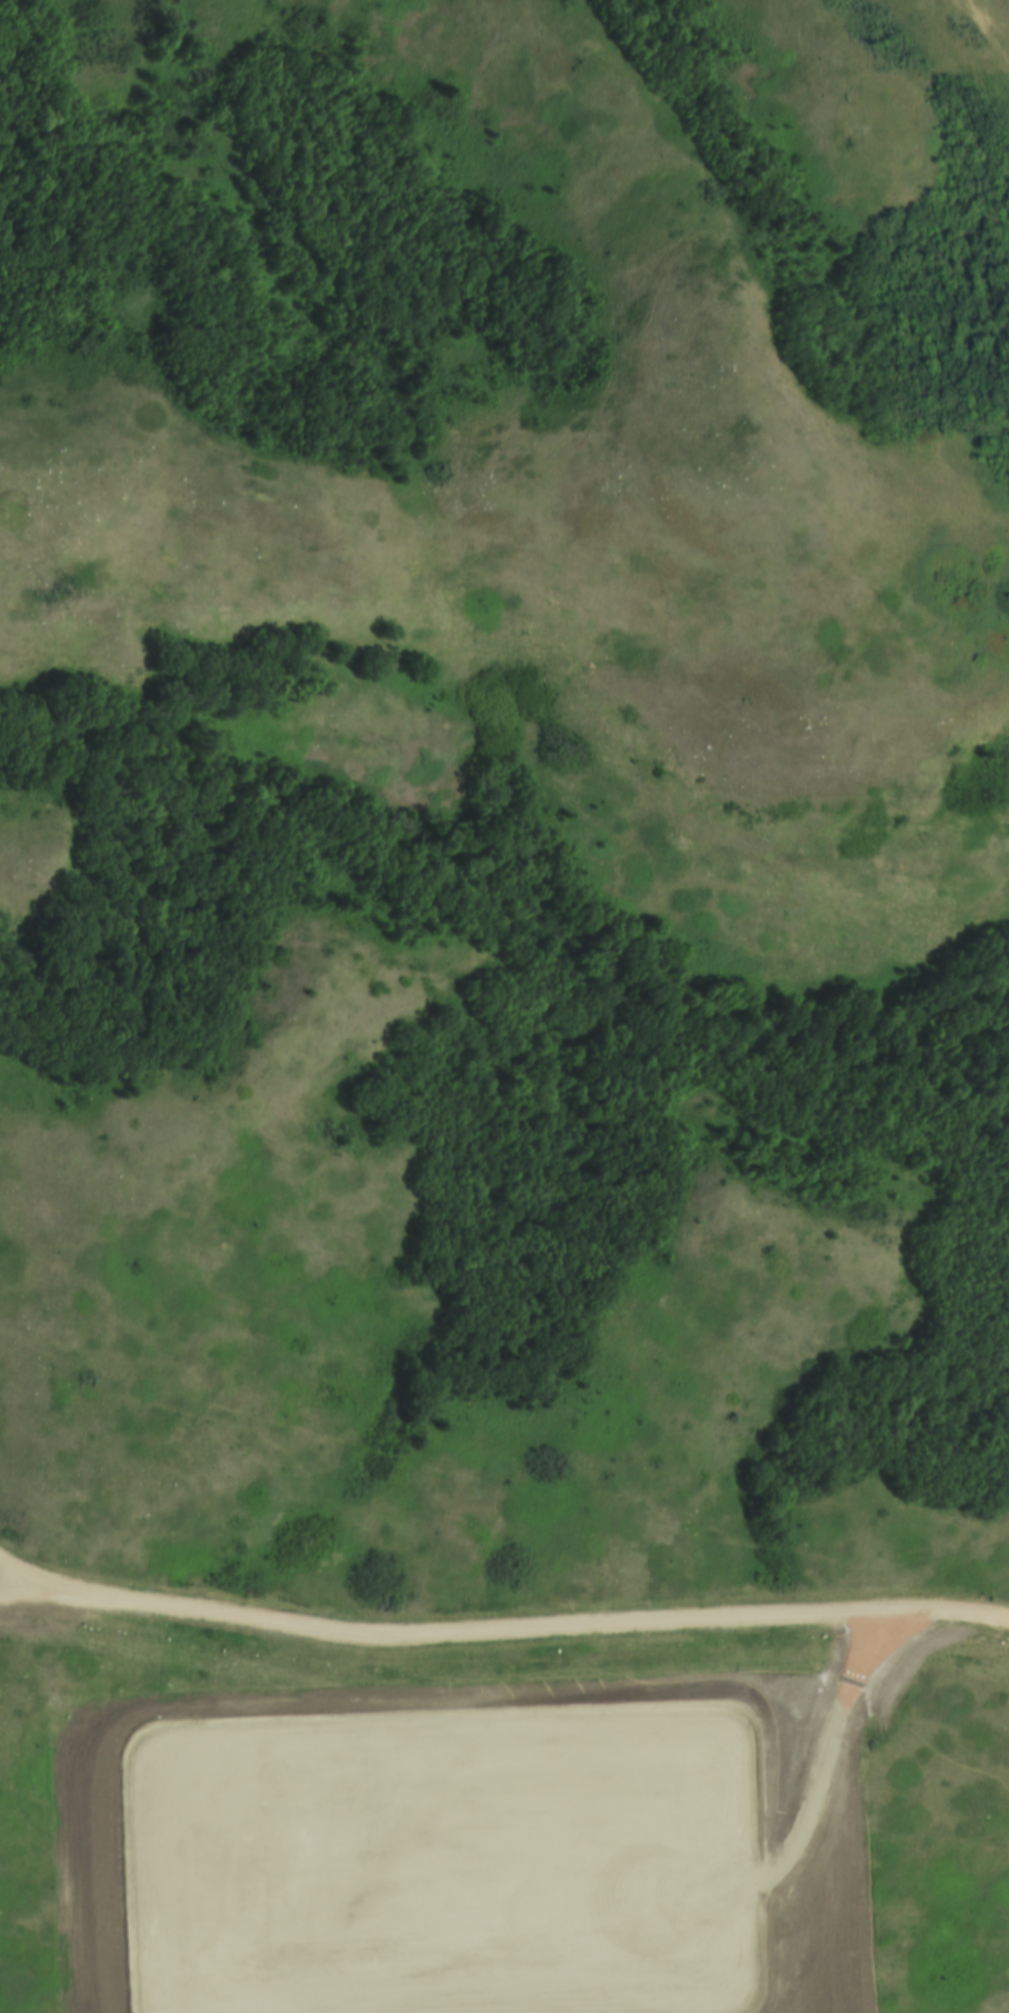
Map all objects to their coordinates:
road: (499, 1617)

